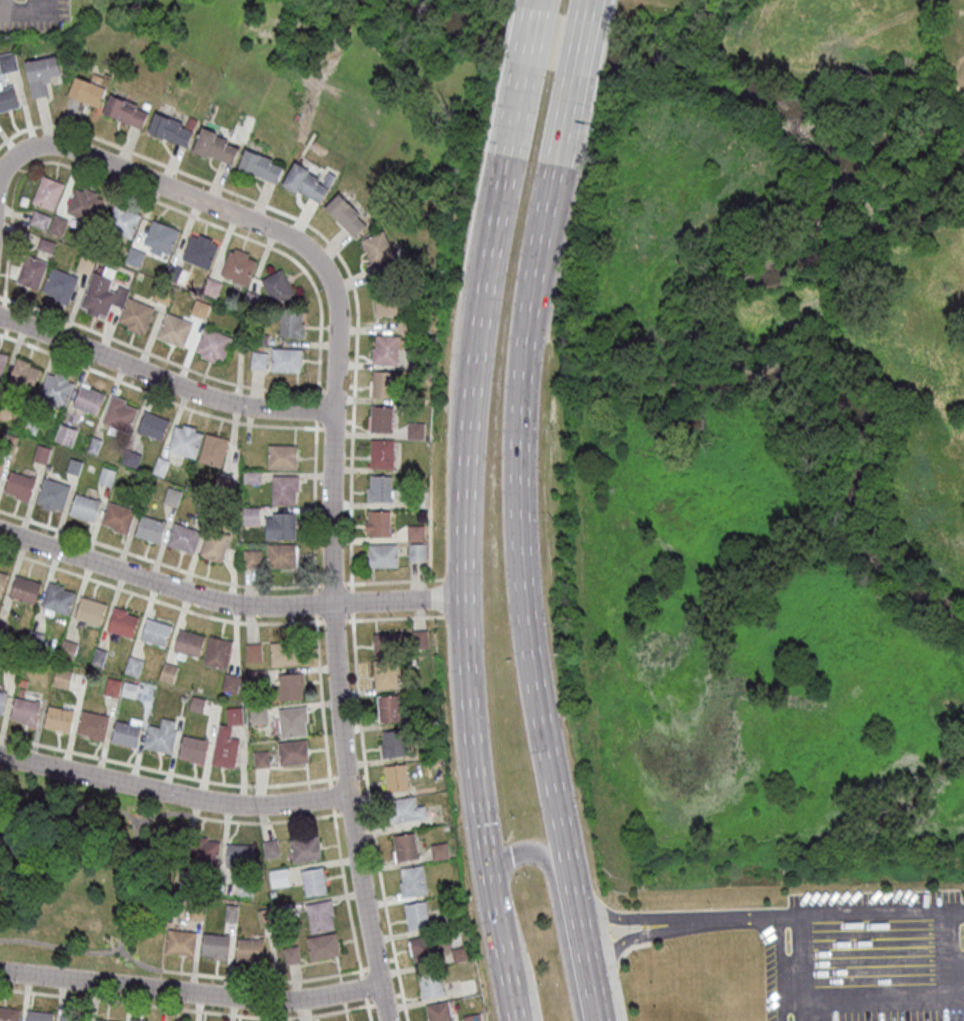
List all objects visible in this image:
road: (538, 6)
road: (542, 6)
road: (589, 10)
road: (595, 10)
parking lot: (31, 14)
park: (952, 26)
road: (535, 38)
river: (523, 42)
road: (582, 48)
building: (7, 62)
building: (39, 74)
building: (85, 91)
building: (7, 98)
building: (144, 105)
building: (122, 111)
building: (170, 129)
building: (211, 146)
building: (258, 166)
road: (507, 177)
building: (304, 182)
building: (46, 193)
building: (82, 204)
building: (343, 215)
building: (37, 219)
building: (121, 220)
building: (56, 225)
building: (158, 238)
building: (44, 245)
river: (844, 247)
building: (198, 251)
building: (376, 254)
building: (133, 257)
building: (84, 263)
building: (236, 266)
park: (962, 269)
building: (29, 272)
building: (58, 285)
building: (209, 286)
building: (275, 286)
building: (161, 294)
building: (100, 295)
building: (249, 300)
building: (384, 302)
building: (134, 315)
building: (289, 325)
building: (404, 325)
building: (172, 329)
building: (211, 344)
building: (383, 349)
building: (284, 359)
building: (256, 360)
building: (1, 361)
building: (418, 362)
building: (22, 375)
road: (163, 381)
building: (380, 384)
building: (54, 389)
building: (86, 399)
building: (3, 410)
building: (116, 415)
building: (380, 418)
building: (29, 423)
building: (150, 425)
building: (415, 430)
building: (63, 435)
building: (184, 440)
building: (7, 443)
building: (92, 445)
building: (213, 449)
building: (381, 453)
building: (39, 454)
building: (281, 456)
building: (129, 458)
road: (332, 462)
building: (0, 465)
building: (72, 466)
building: (159, 466)
building: (1, 470)
building: (104, 476)
building: (251, 476)
building: (18, 485)
building: (139, 487)
building: (222, 487)
building: (379, 487)
building: (283, 489)
building: (51, 494)
building: (171, 496)
building: (416, 499)
building: (84, 506)
building: (204, 507)
building: (250, 515)
building: (116, 516)
building: (378, 522)
building: (280, 525)
building: (149, 528)
building: (415, 532)
building: (183, 537)
building: (214, 544)
road: (524, 548)
building: (416, 551)
building: (383, 554)
building: (281, 555)
building: (251, 558)
building: (2, 579)
river: (893, 579)
building: (24, 588)
building: (57, 597)
road: (226, 603)
building: (89, 609)
building: (121, 621)
building: (1, 627)
building: (155, 632)
building: (420, 638)
building: (32, 639)
building: (187, 643)
building: (385, 643)
building: (66, 649)
building: (217, 652)
building: (253, 652)
building: (284, 652)
building: (97, 656)
road: (464, 657)
building: (8, 659)
building: (132, 665)
building: (167, 672)
building: (384, 673)
building: (61, 677)
building: (255, 678)
building: (21, 682)
building: (230, 682)
building: (290, 685)
building: (111, 686)
building: (128, 689)
building: (20, 691)
building: (182, 697)
building: (2, 700)
building: (196, 704)
building: (387, 707)
building: (24, 710)
building: (257, 714)
building: (233, 715)
building: (57, 718)
building: (292, 721)
building: (92, 724)
building: (126, 732)
building: (160, 736)
building: (392, 742)
building: (224, 747)
building: (192, 748)
building: (292, 751)
building: (260, 759)
building: (434, 763)
building: (395, 776)
road: (173, 793)
road: (330, 803)
road: (72, 808)
building: (404, 809)
road: (345, 812)
road: (264, 821)
building: (404, 847)
building: (270, 848)
building: (304, 848)
building: (202, 850)
building: (439, 850)
building: (238, 855)
traffic signals: (486, 866)
park: (84, 872)
building: (181, 877)
building: (277, 877)
building: (412, 880)
building: (313, 881)
road: (121, 882)
building: (244, 888)
building: (198, 889)
road: (344, 892)
building: (271, 893)
building: (190, 897)
building: (282, 909)
road: (558, 909)
building: (196, 910)
building: (230, 913)
building: (416, 914)
building: (318, 915)
road: (808, 915)
building: (263, 917)
building: (451, 919)
road: (651, 923)
building: (179, 941)
road: (58, 945)
building: (214, 945)
building: (321, 946)
building: (425, 946)
building: (249, 949)
road: (521, 951)
building: (458, 953)
building: (290, 954)
road: (870, 957)
road: (371, 966)
road: (777, 968)
road: (263, 980)
building: (430, 982)
road: (361, 983)
building: (466, 986)
road: (190, 992)
building: (438, 1011)
building: (8, 1014)
building: (38, 1015)
building: (472, 1017)
building: (69, 1018)
building: (104, 1020)
building: (135, 1020)

